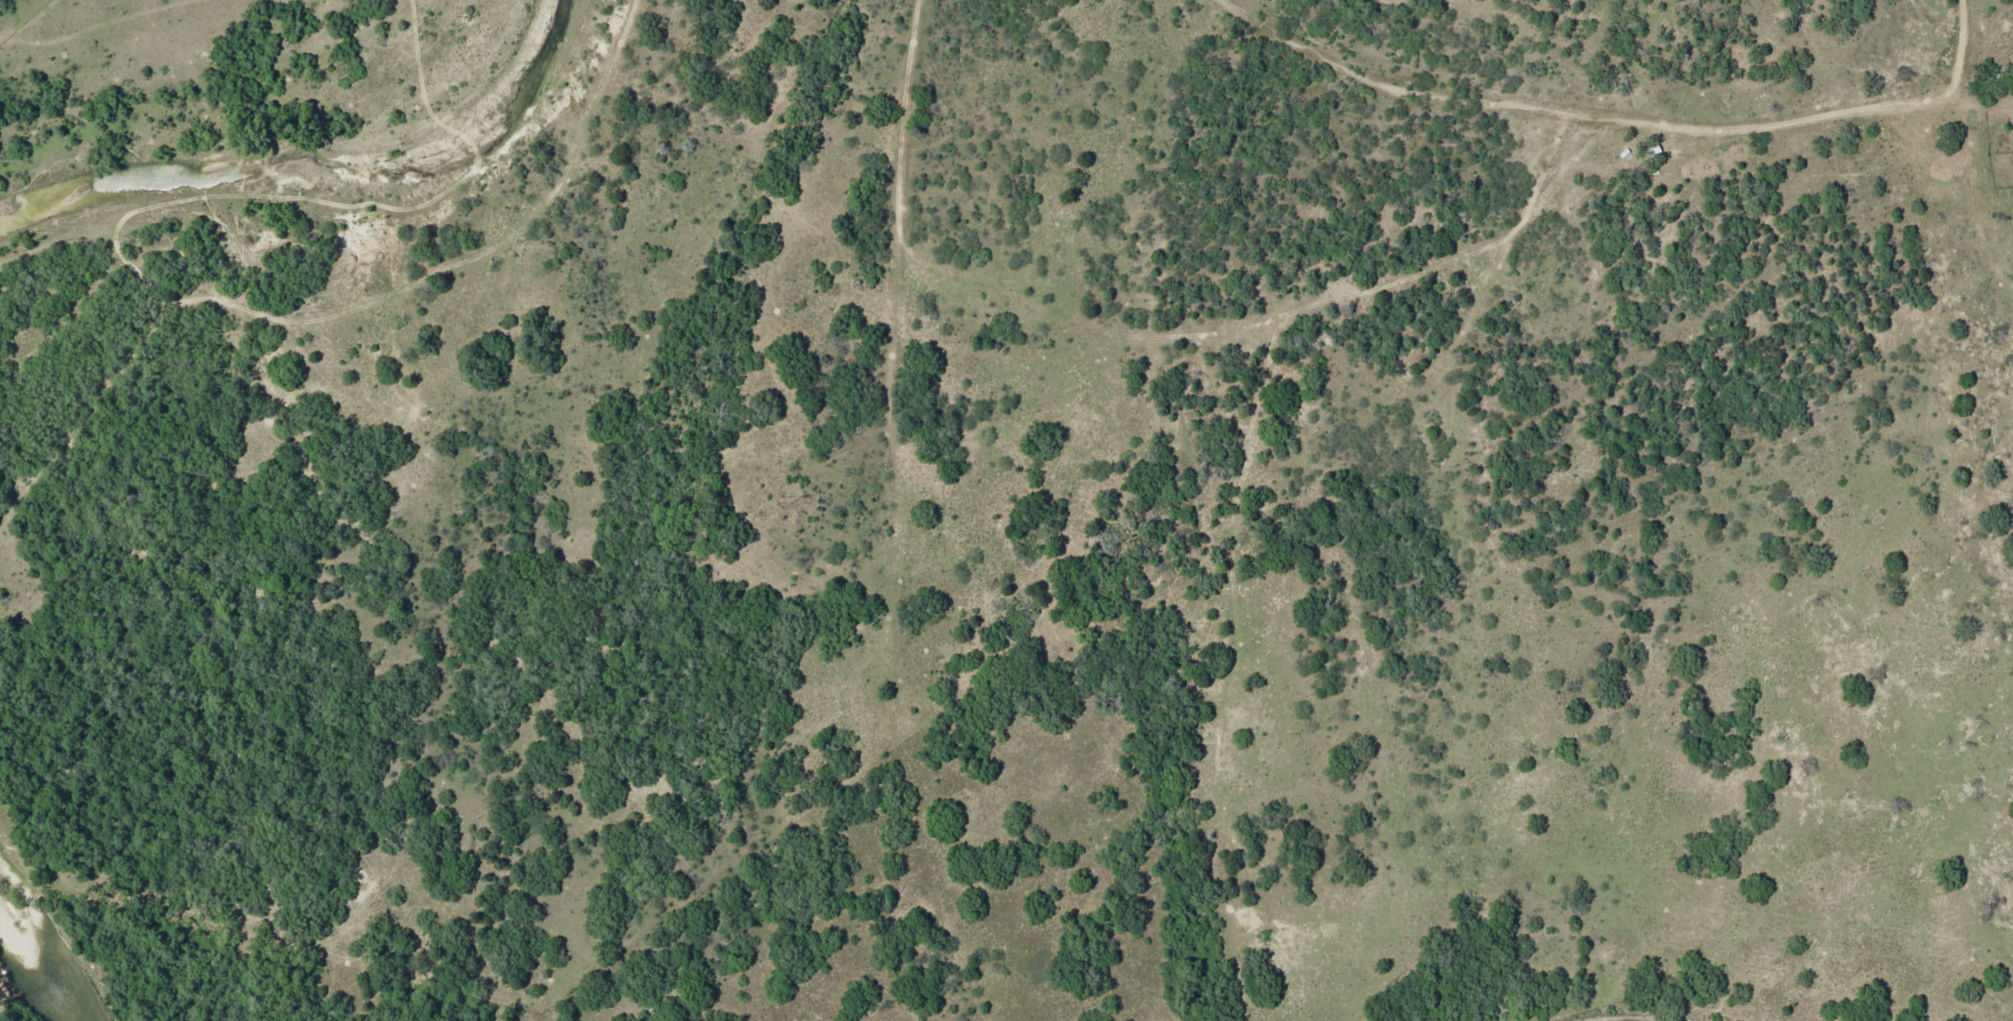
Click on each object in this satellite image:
road: (1981, 103)
road: (1626, 124)
road: (580, 149)

